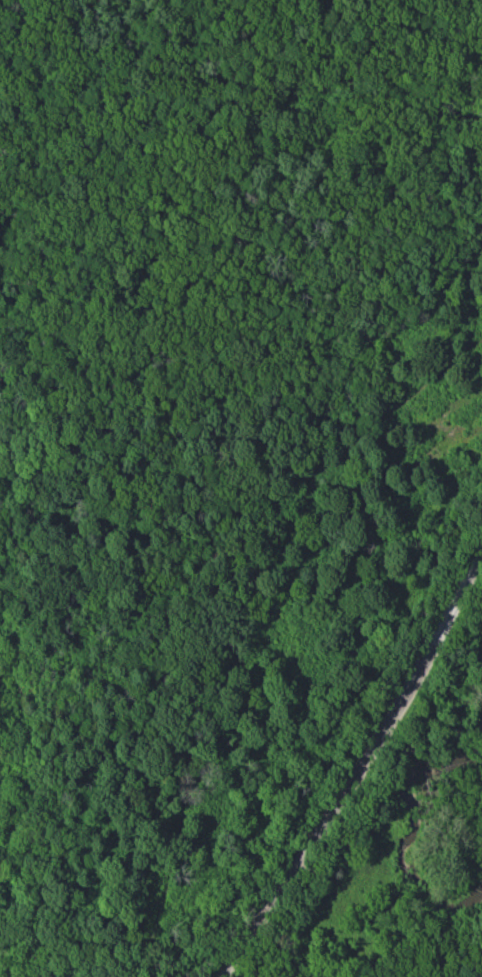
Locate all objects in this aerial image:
road: (244, 85)
park: (241, 488)
road: (359, 768)
road: (168, 844)
road: (5, 920)
road: (112, 974)

